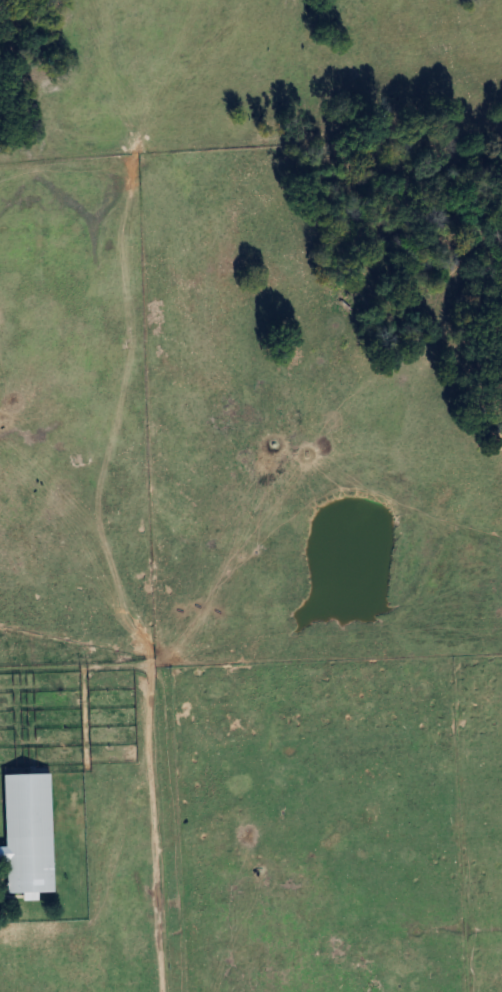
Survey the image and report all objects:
building: (25, 836)

